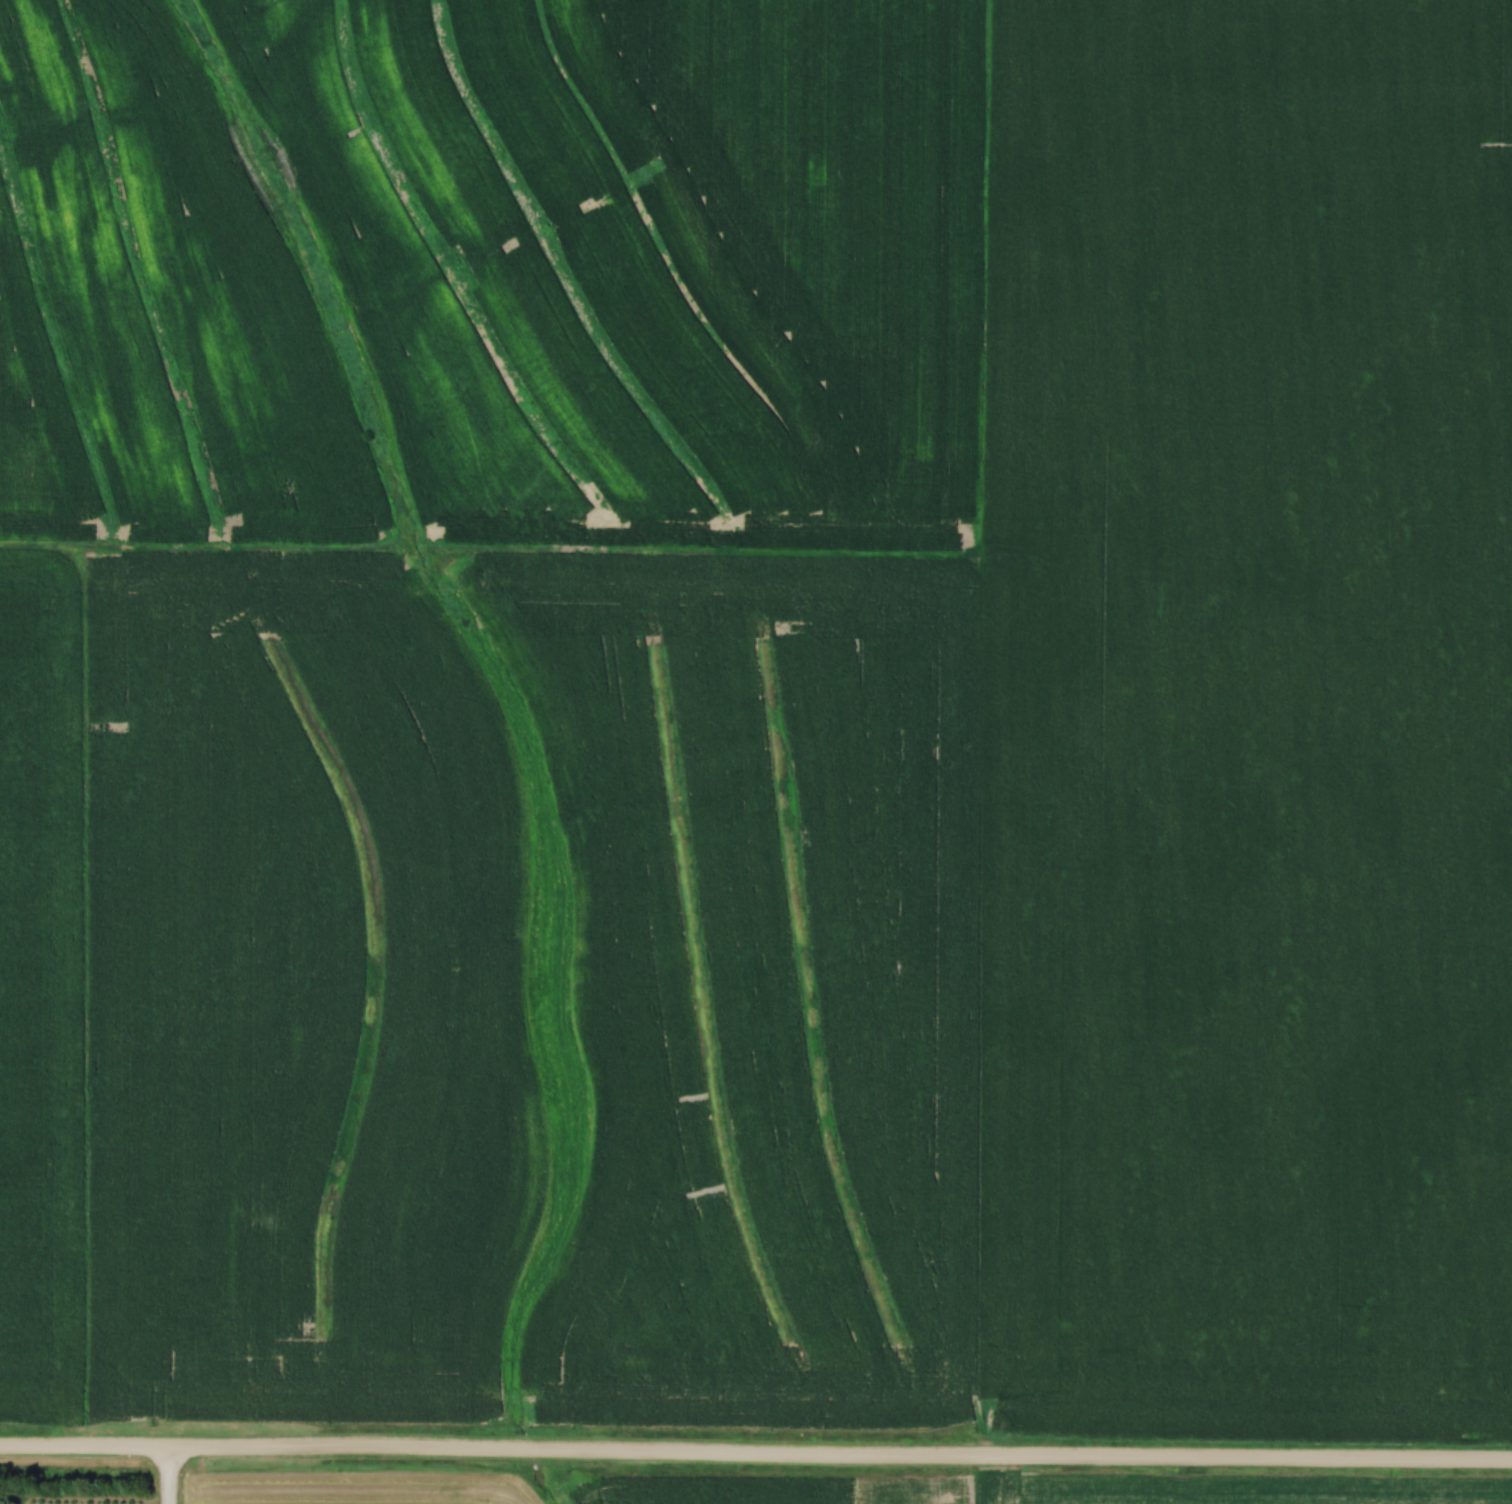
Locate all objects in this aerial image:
road: (755, 1458)
road: (164, 1478)

